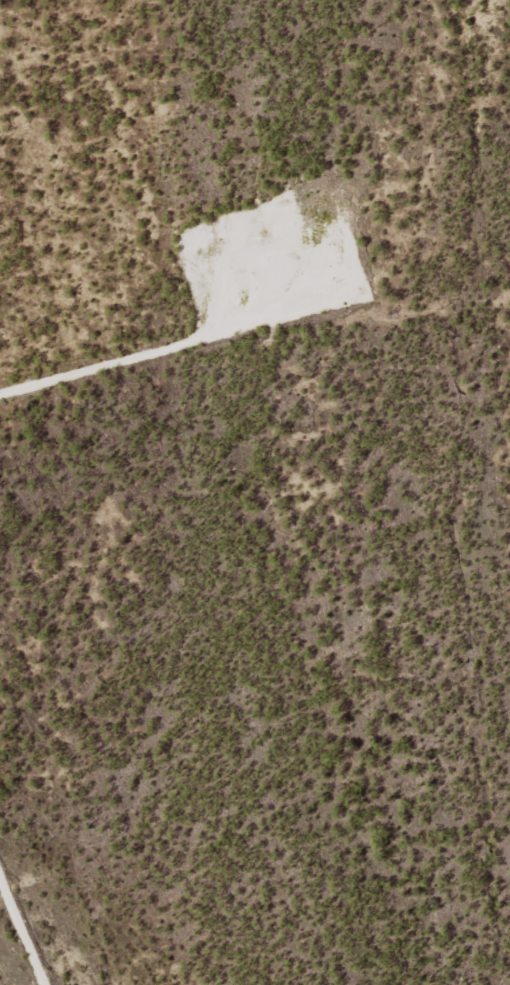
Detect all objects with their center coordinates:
road: (47, 754)

